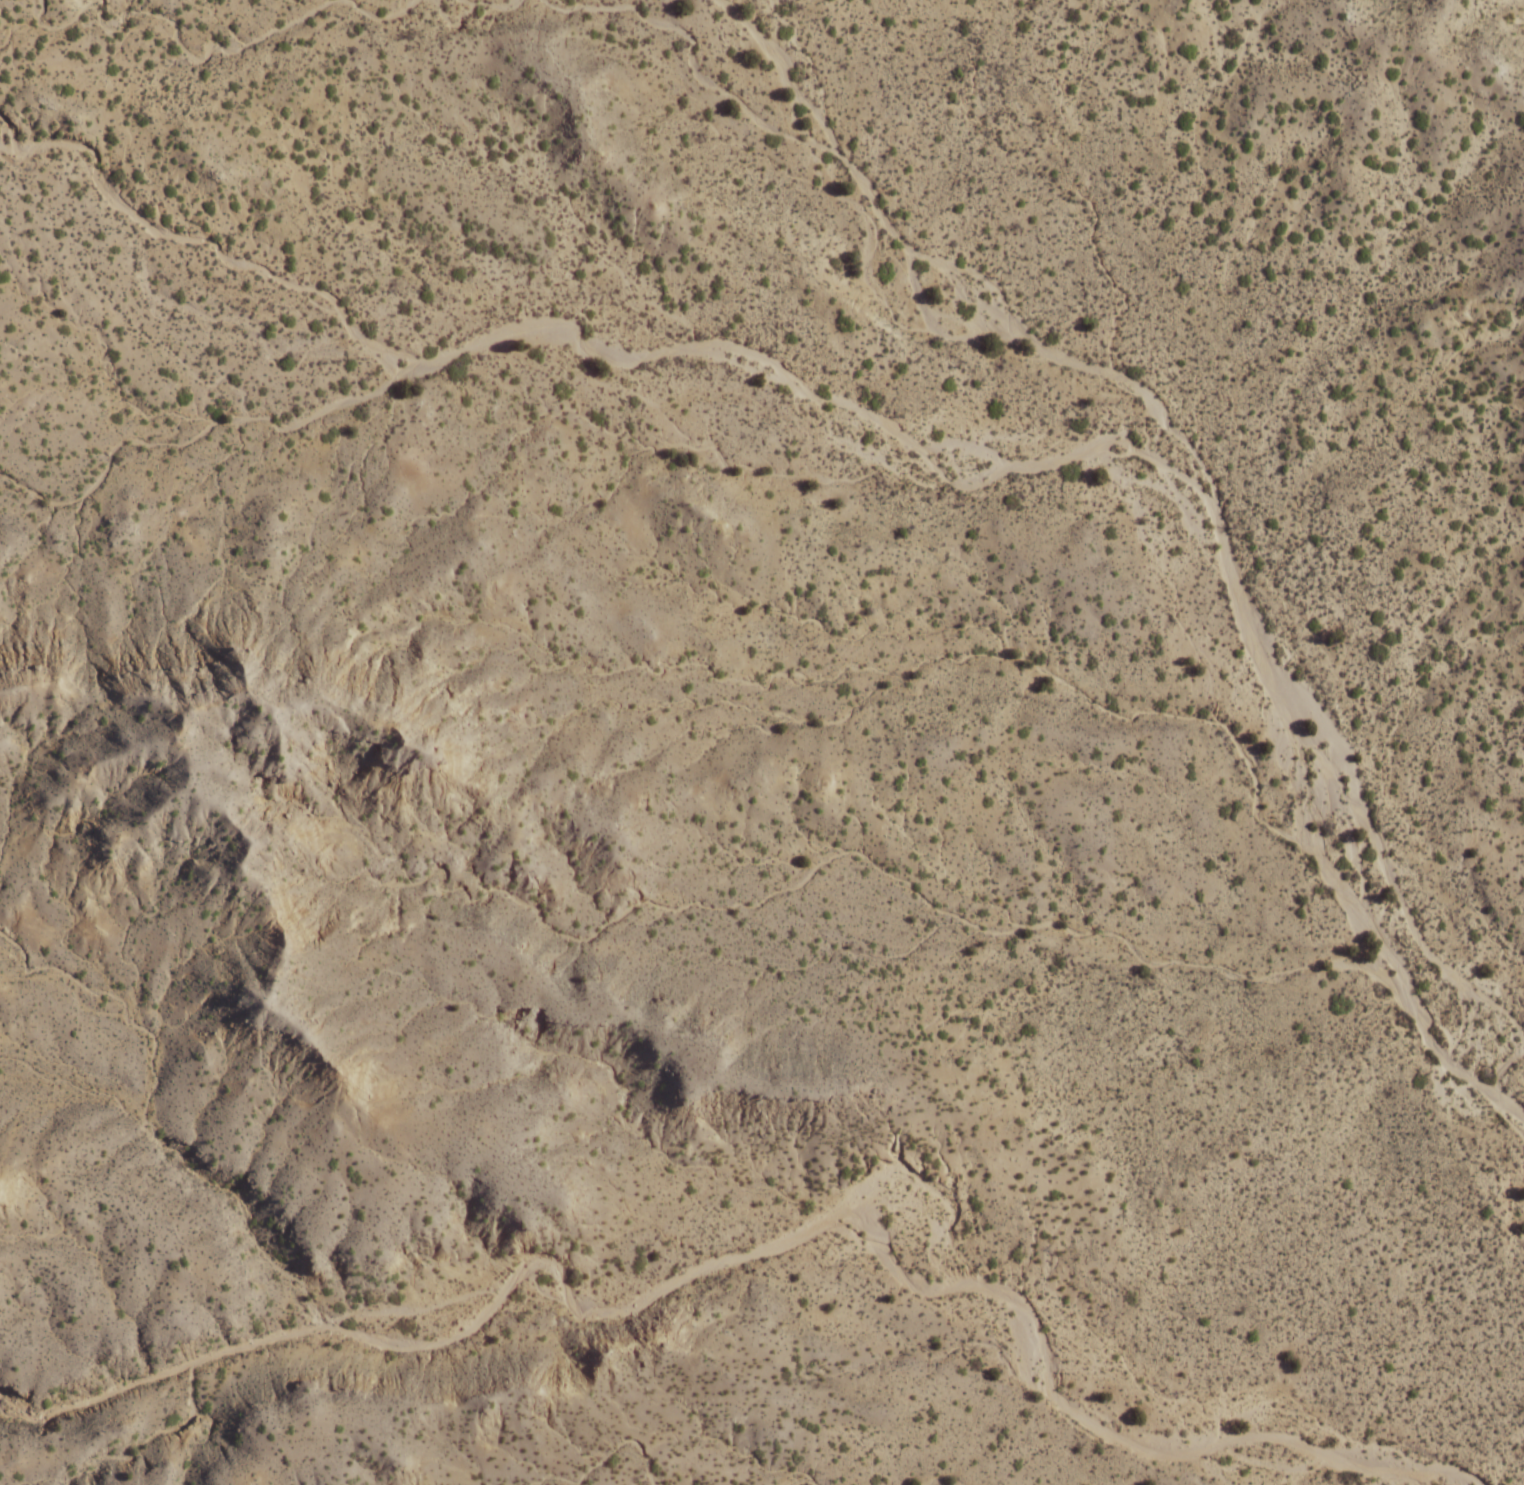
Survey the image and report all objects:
river: (969, 445)
river: (1154, 458)
river: (1418, 938)
river: (1396, 1472)

